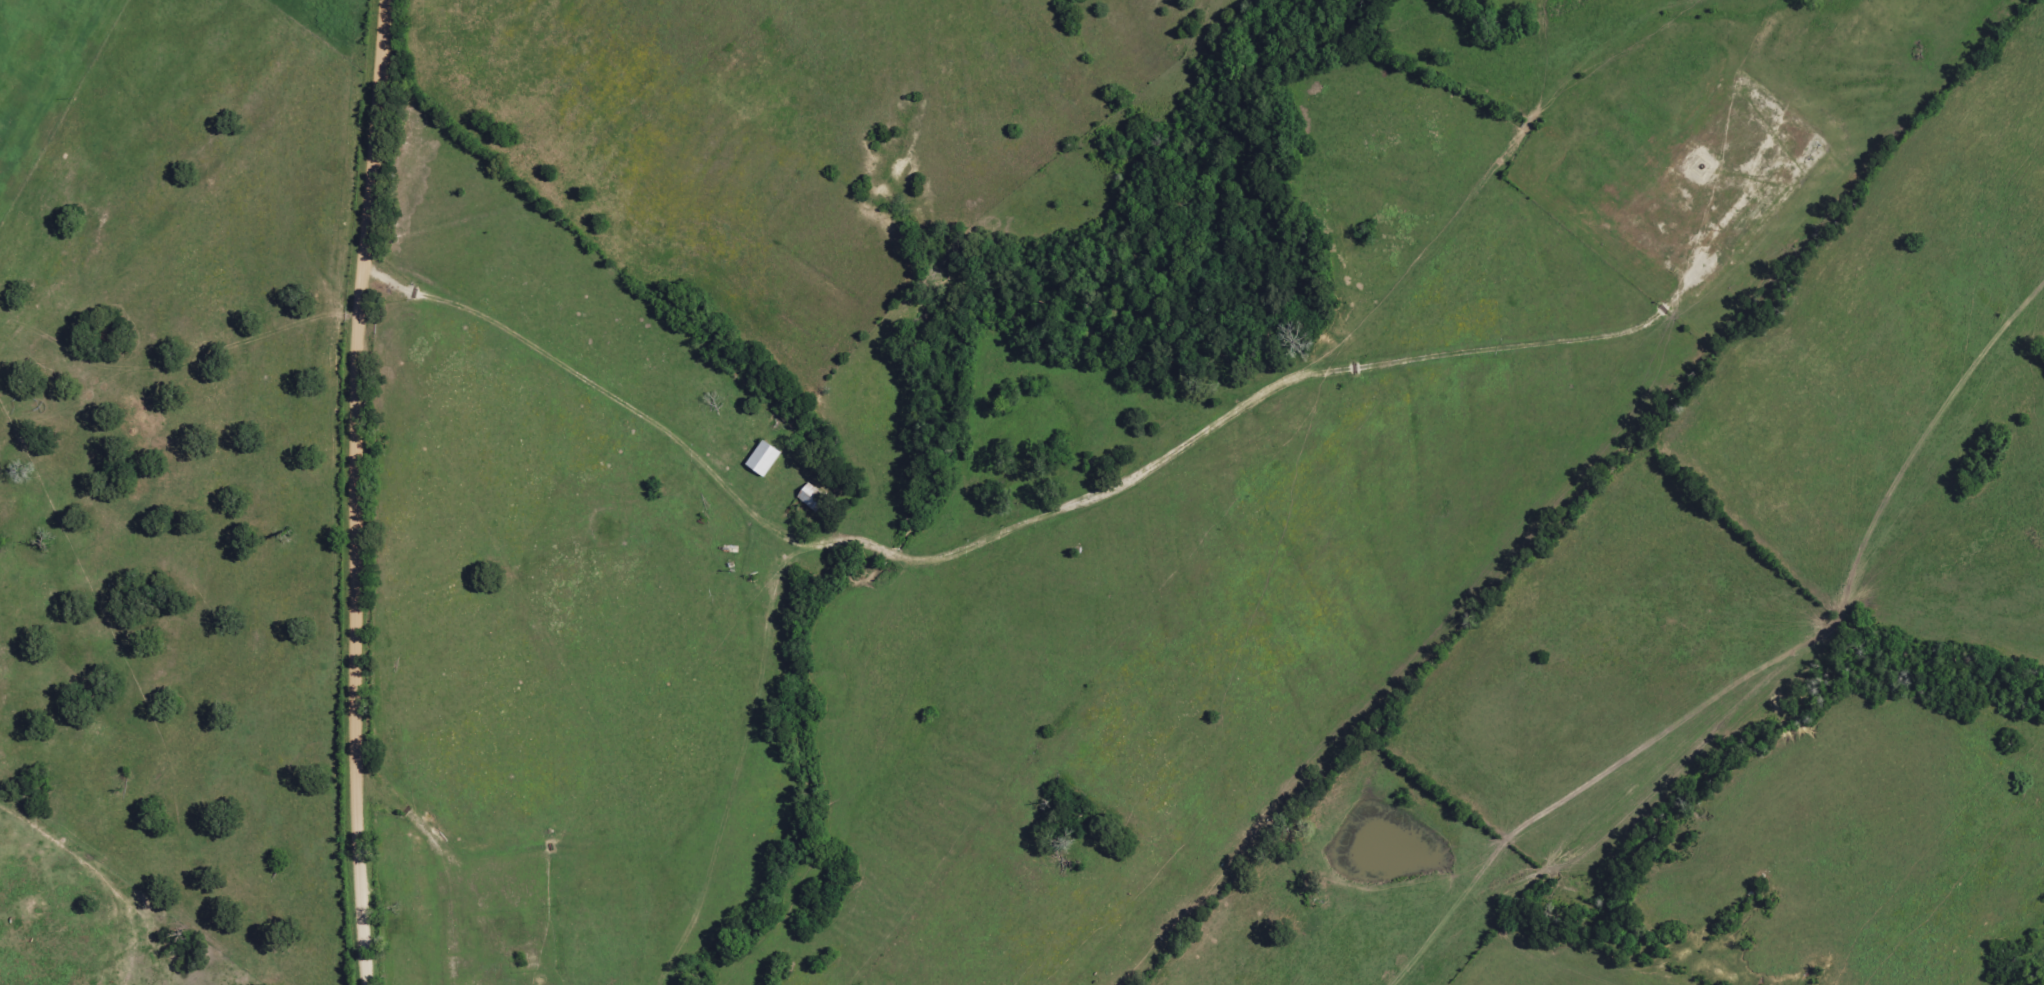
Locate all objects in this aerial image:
building: (767, 459)
road: (359, 492)

